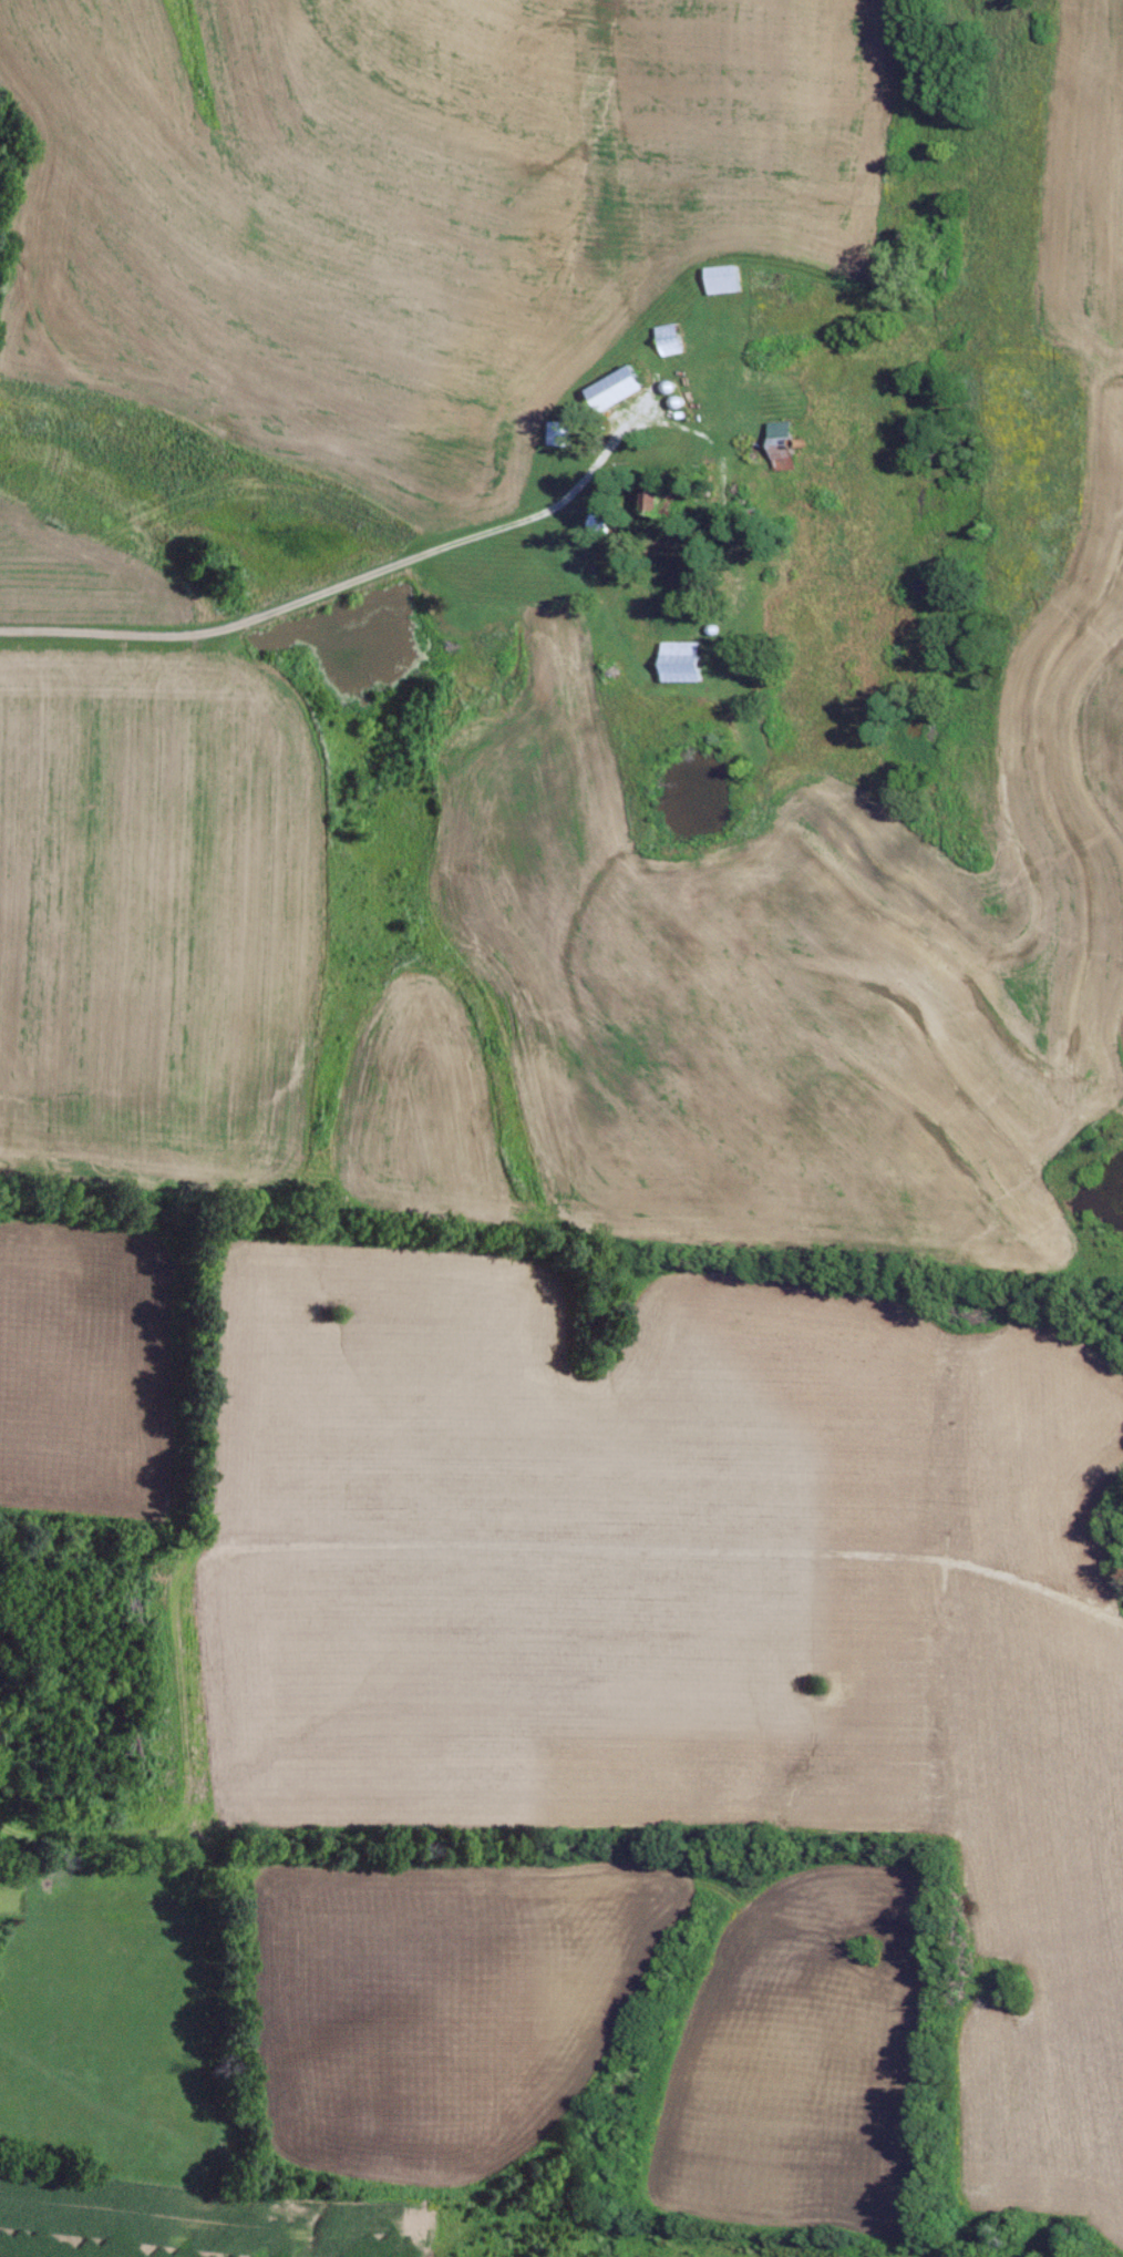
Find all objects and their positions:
building: (722, 279)
building: (668, 339)
building: (618, 387)
building: (561, 432)
building: (779, 435)
building: (651, 495)
building: (598, 523)
road: (380, 567)
building: (679, 665)

